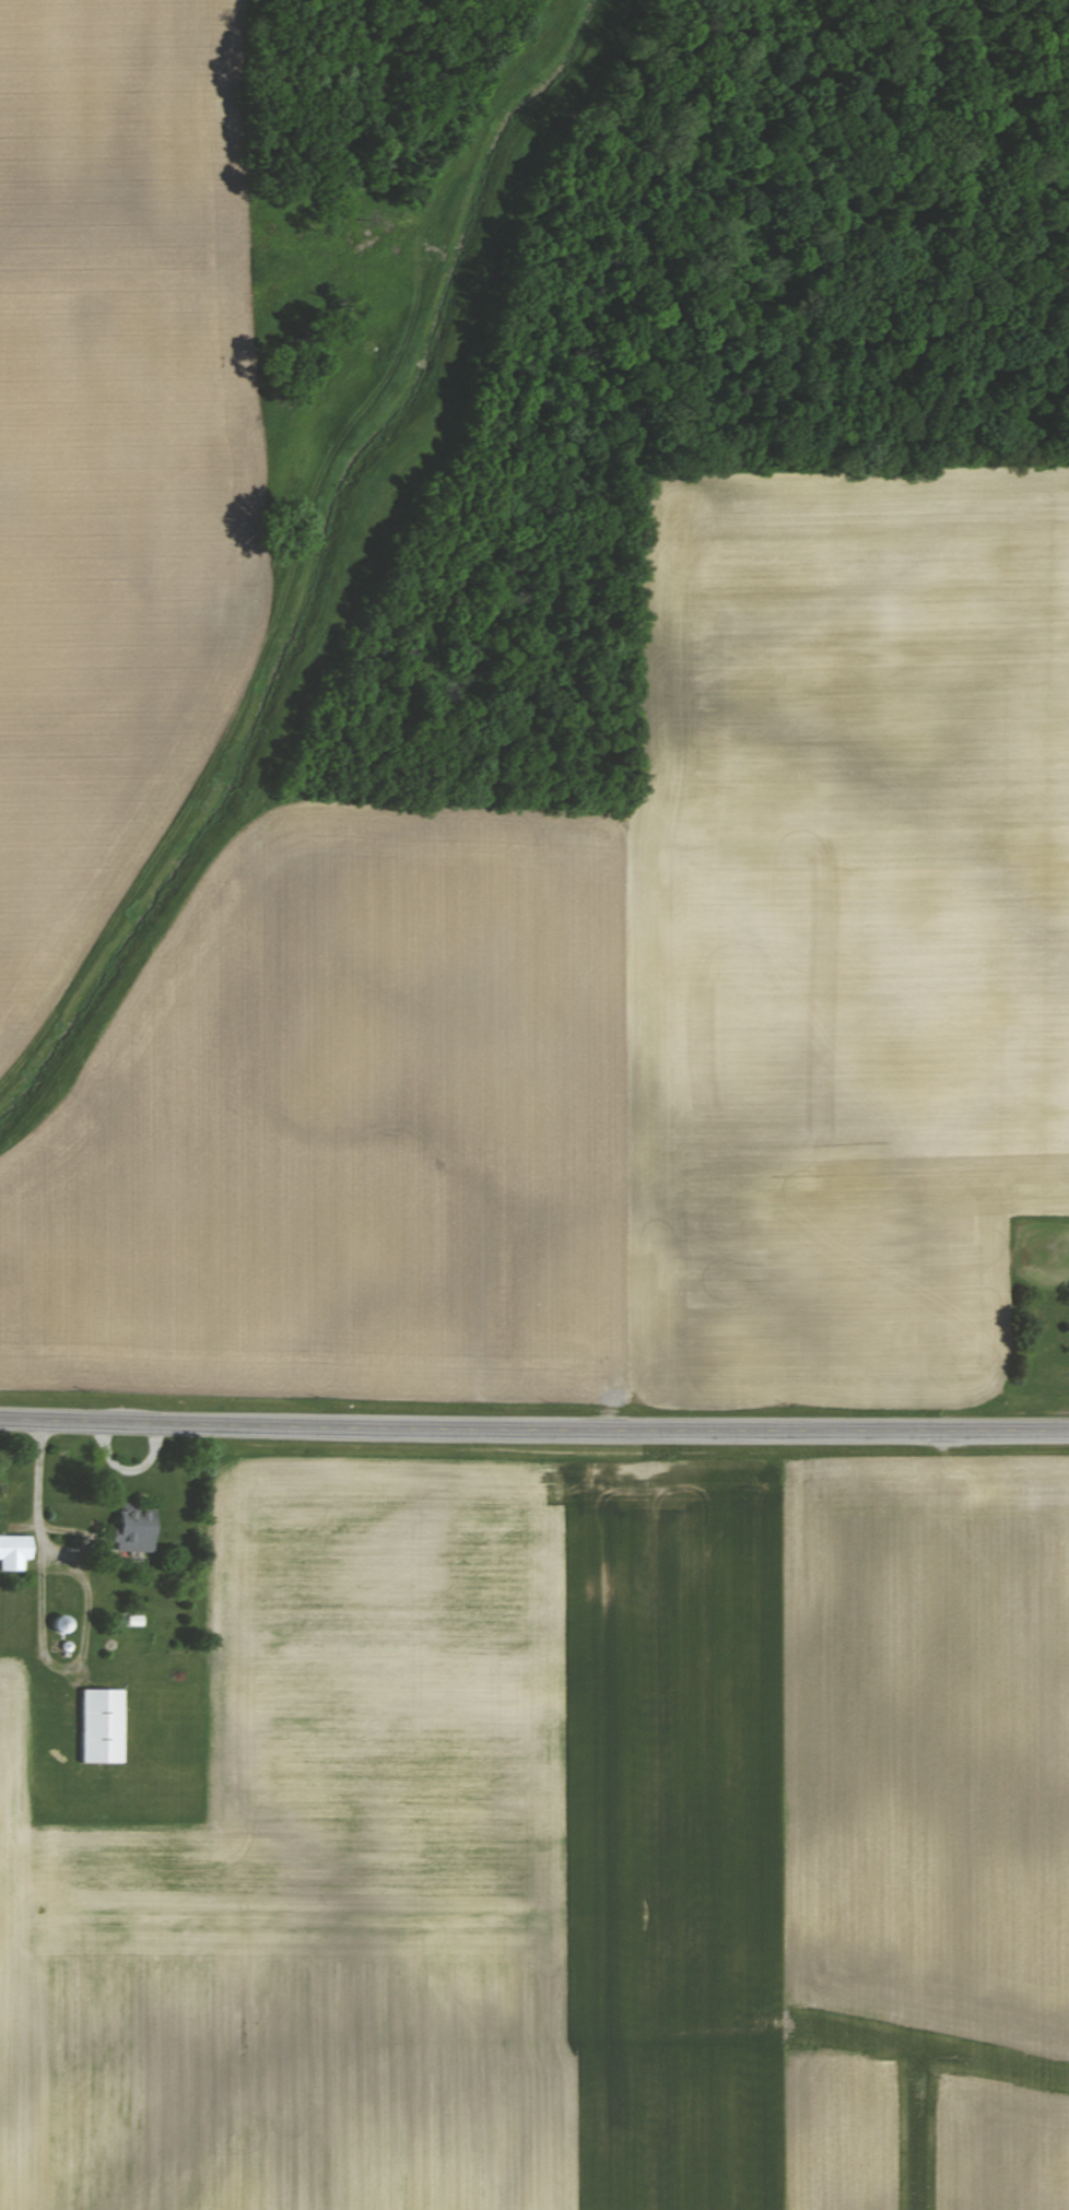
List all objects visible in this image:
road: (533, 1431)
building: (133, 1528)
road: (62, 1549)
building: (14, 1553)
building: (102, 1725)

